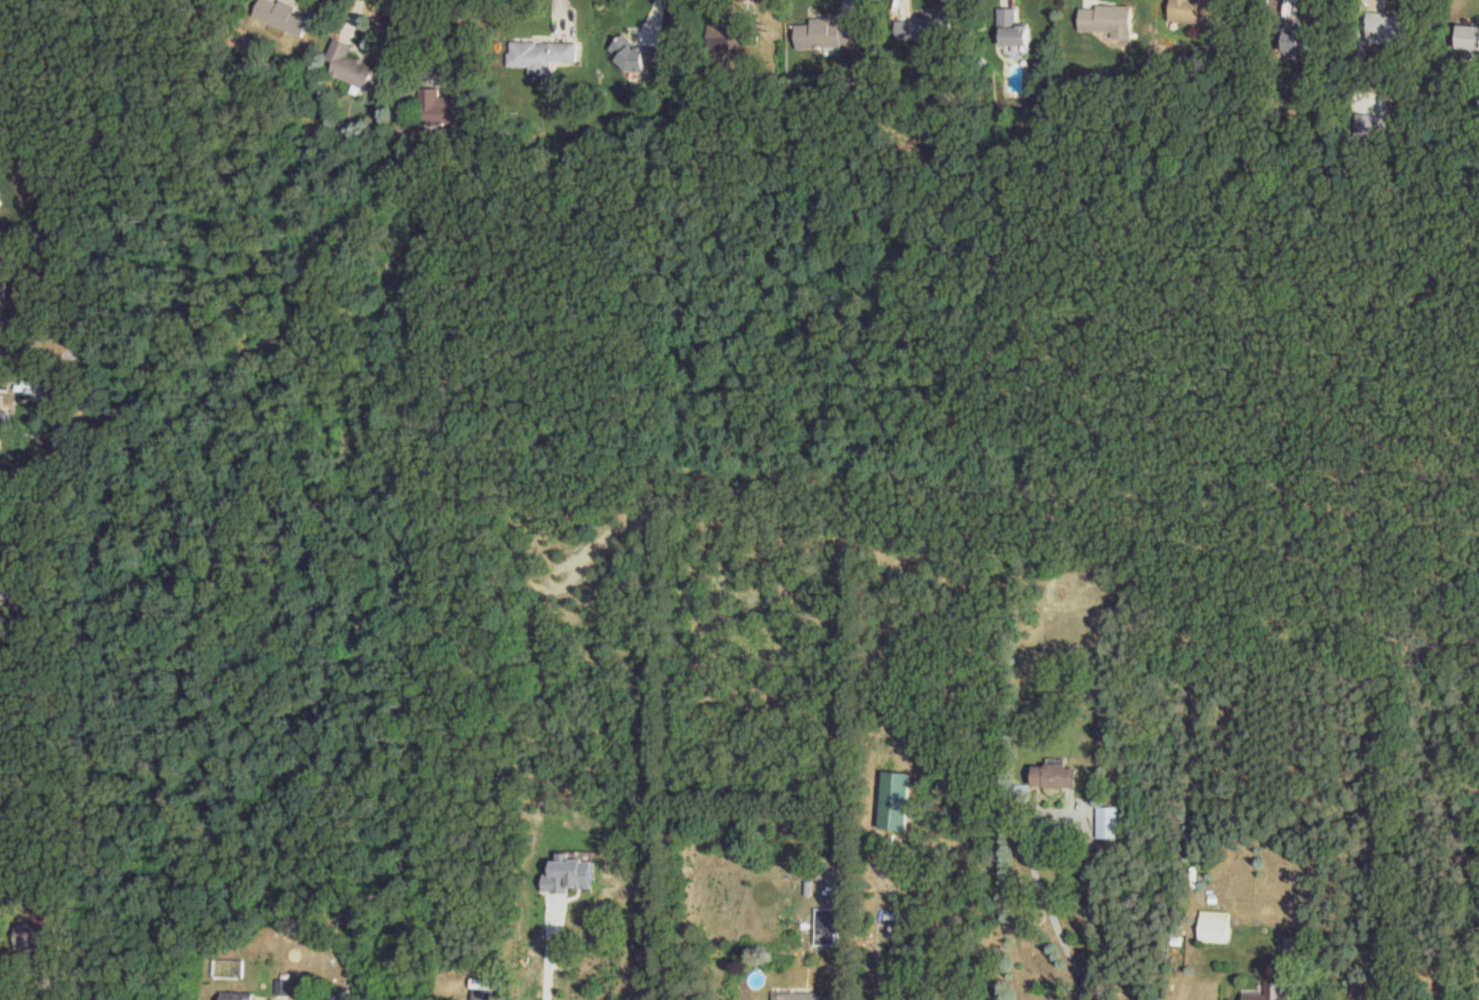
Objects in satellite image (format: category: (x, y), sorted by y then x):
building: (1196, 12)
building: (285, 16)
building: (1107, 20)
building: (926, 26)
building: (1015, 28)
building: (1386, 30)
building: (734, 33)
building: (830, 33)
building: (1466, 38)
building: (1294, 39)
building: (542, 55)
building: (636, 57)
building: (352, 66)
building: (443, 108)
building: (0, 197)
building: (2, 420)
building: (1053, 777)
road: (1057, 813)
building: (1107, 824)
building: (826, 927)
building: (1212, 932)
building: (38, 938)
building: (1306, 945)
road: (549, 954)
road: (47, 986)
building: (547, 990)
building: (1268, 993)
building: (237, 995)
building: (340, 996)
building: (801, 997)
building: (519, 999)
road: (1087, 999)

